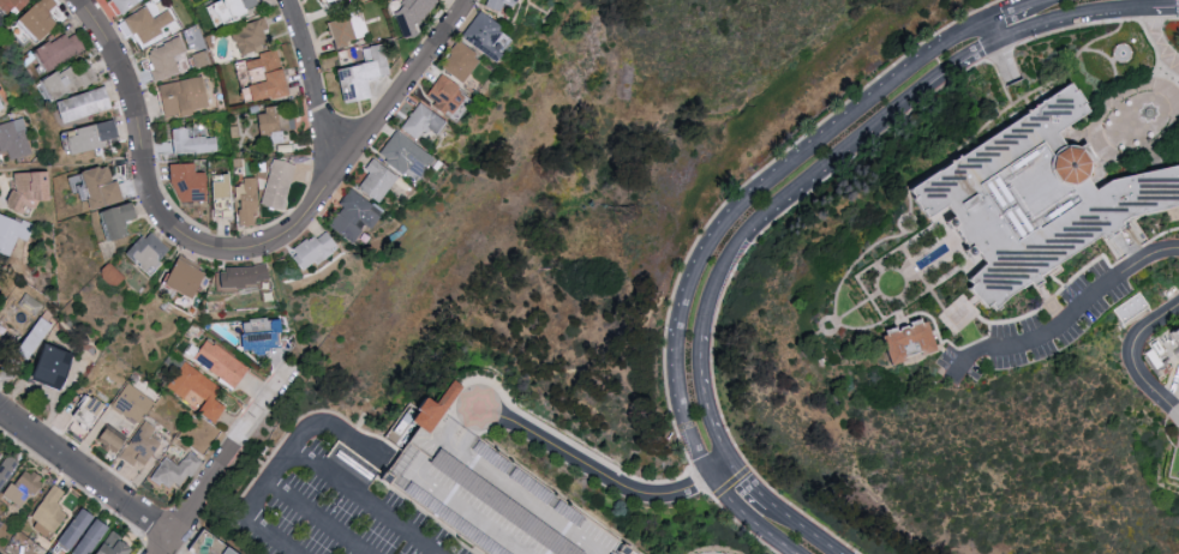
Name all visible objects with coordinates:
building: (522, 0)
building: (328, 1)
road: (1043, 2)
building: (121, 4)
building: (499, 4)
building: (11, 5)
building: (231, 10)
road: (1011, 11)
building: (415, 13)
building: (40, 20)
building: (151, 25)
building: (348, 29)
building: (256, 35)
building: (487, 35)
building: (193, 37)
road: (1109, 38)
road: (1157, 42)
building: (62, 49)
building: (166, 58)
road: (1005, 59)
building: (463, 61)
road: (1178, 67)
building: (366, 73)
building: (267, 76)
road: (127, 78)
road: (1172, 80)
building: (59, 84)
park: (1120, 88)
road: (321, 94)
building: (448, 94)
building: (185, 96)
building: (88, 103)
building: (1, 106)
fountain: (1149, 114)
building: (279, 119)
building: (424, 121)
building: (92, 136)
building: (14, 138)
road: (1174, 140)
building: (192, 141)
road: (1094, 144)
building: (408, 153)
road: (951, 153)
building: (379, 180)
building: (188, 182)
building: (280, 183)
building: (79, 185)
building: (225, 186)
building: (32, 187)
building: (103, 187)
road: (792, 195)
road: (325, 199)
road: (746, 199)
building: (1031, 200)
building: (249, 201)
building: (358, 215)
road: (903, 218)
building: (120, 219)
building: (12, 234)
road: (1165, 240)
building: (317, 249)
building: (151, 251)
road: (876, 265)
road: (880, 269)
road: (909, 273)
building: (246, 275)
building: (188, 278)
road: (921, 279)
park: (890, 283)
road: (874, 296)
road: (891, 300)
road: (903, 302)
road: (852, 312)
road: (1070, 318)
road: (824, 321)
road: (930, 321)
road: (846, 327)
parking lot: (1036, 330)
building: (267, 335)
building: (1172, 337)
building: (908, 344)
building: (5, 347)
road: (1133, 362)
building: (222, 365)
building: (59, 366)
building: (201, 391)
building: (443, 407)
building: (91, 410)
building: (144, 426)
road: (339, 433)
building: (0, 452)
road: (573, 458)
road: (253, 459)
road: (303, 462)
road: (722, 468)
road: (217, 469)
building: (178, 470)
road: (85, 472)
road: (730, 482)
building: (25, 487)
parking lot: (328, 499)
building: (485, 499)
parking garage: (485, 499)
road: (523, 500)
road: (453, 510)
building: (50, 512)
road: (801, 513)
road: (315, 518)
road: (744, 519)
building: (79, 528)
road: (741, 528)
building: (95, 537)
building: (119, 546)
building: (209, 547)
road: (170, 549)

